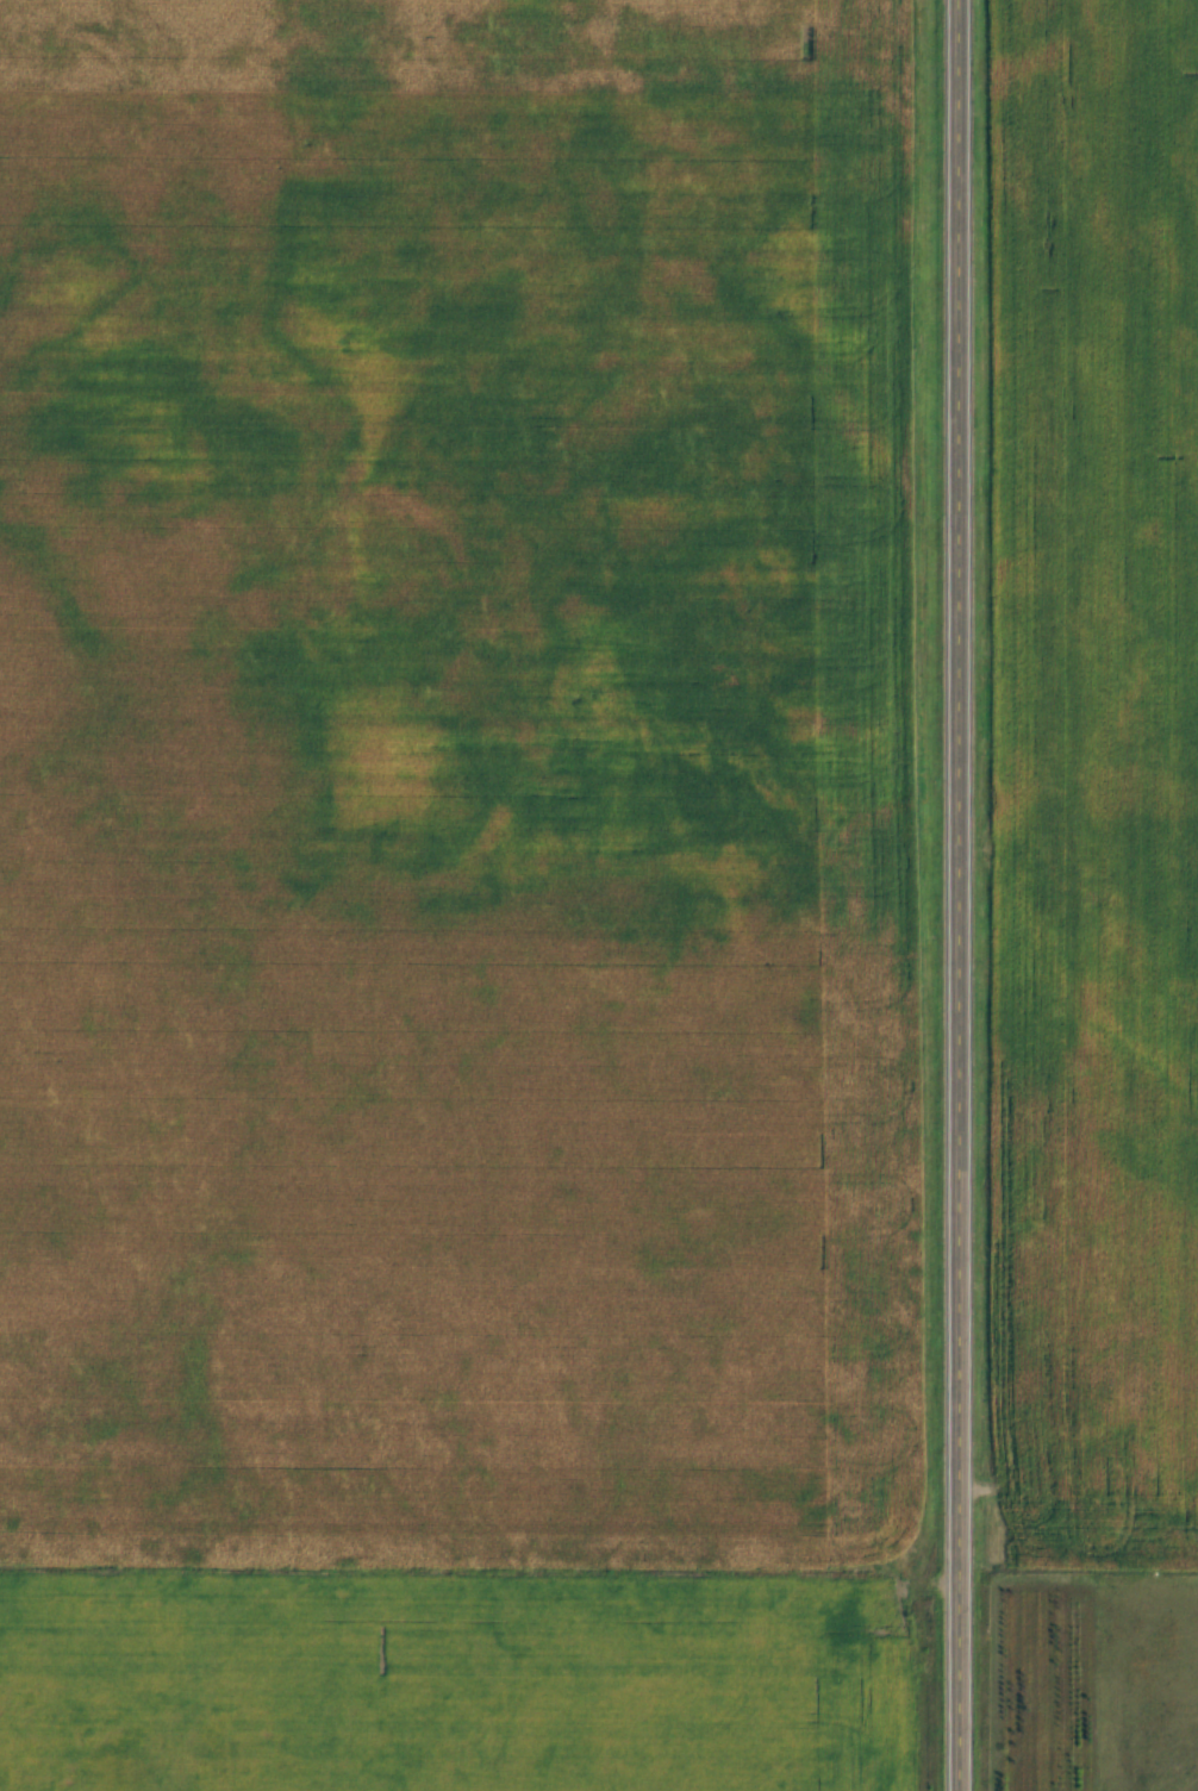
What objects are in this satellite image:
road: (971, 895)

